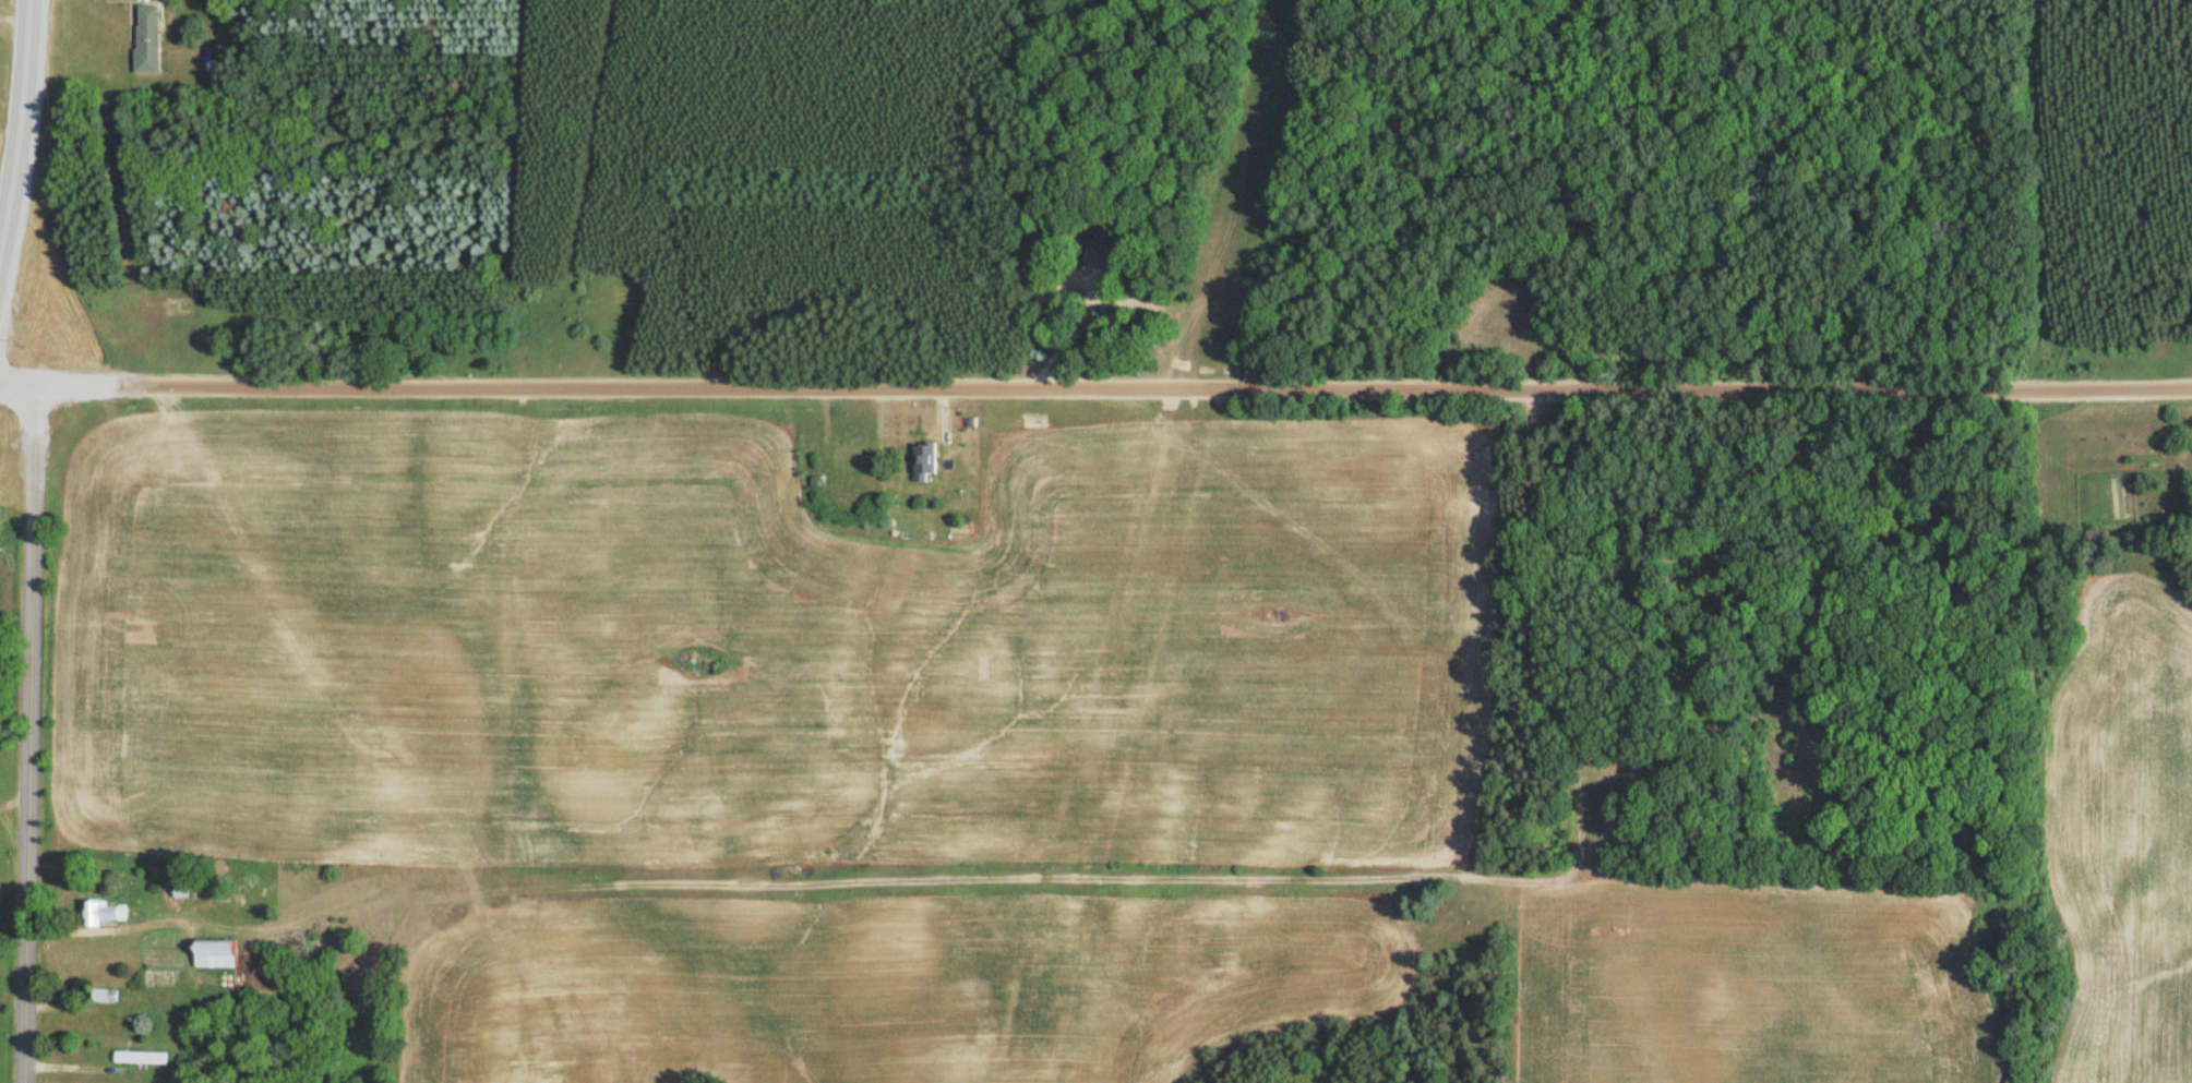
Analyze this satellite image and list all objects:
building: (152, 40)
road: (20, 129)
building: (1110, 262)
road: (1095, 388)
building: (854, 457)
building: (927, 462)
road: (1543, 561)
road: (1855, 660)
road: (32, 734)
building: (107, 913)
building: (111, 996)
building: (144, 1058)

